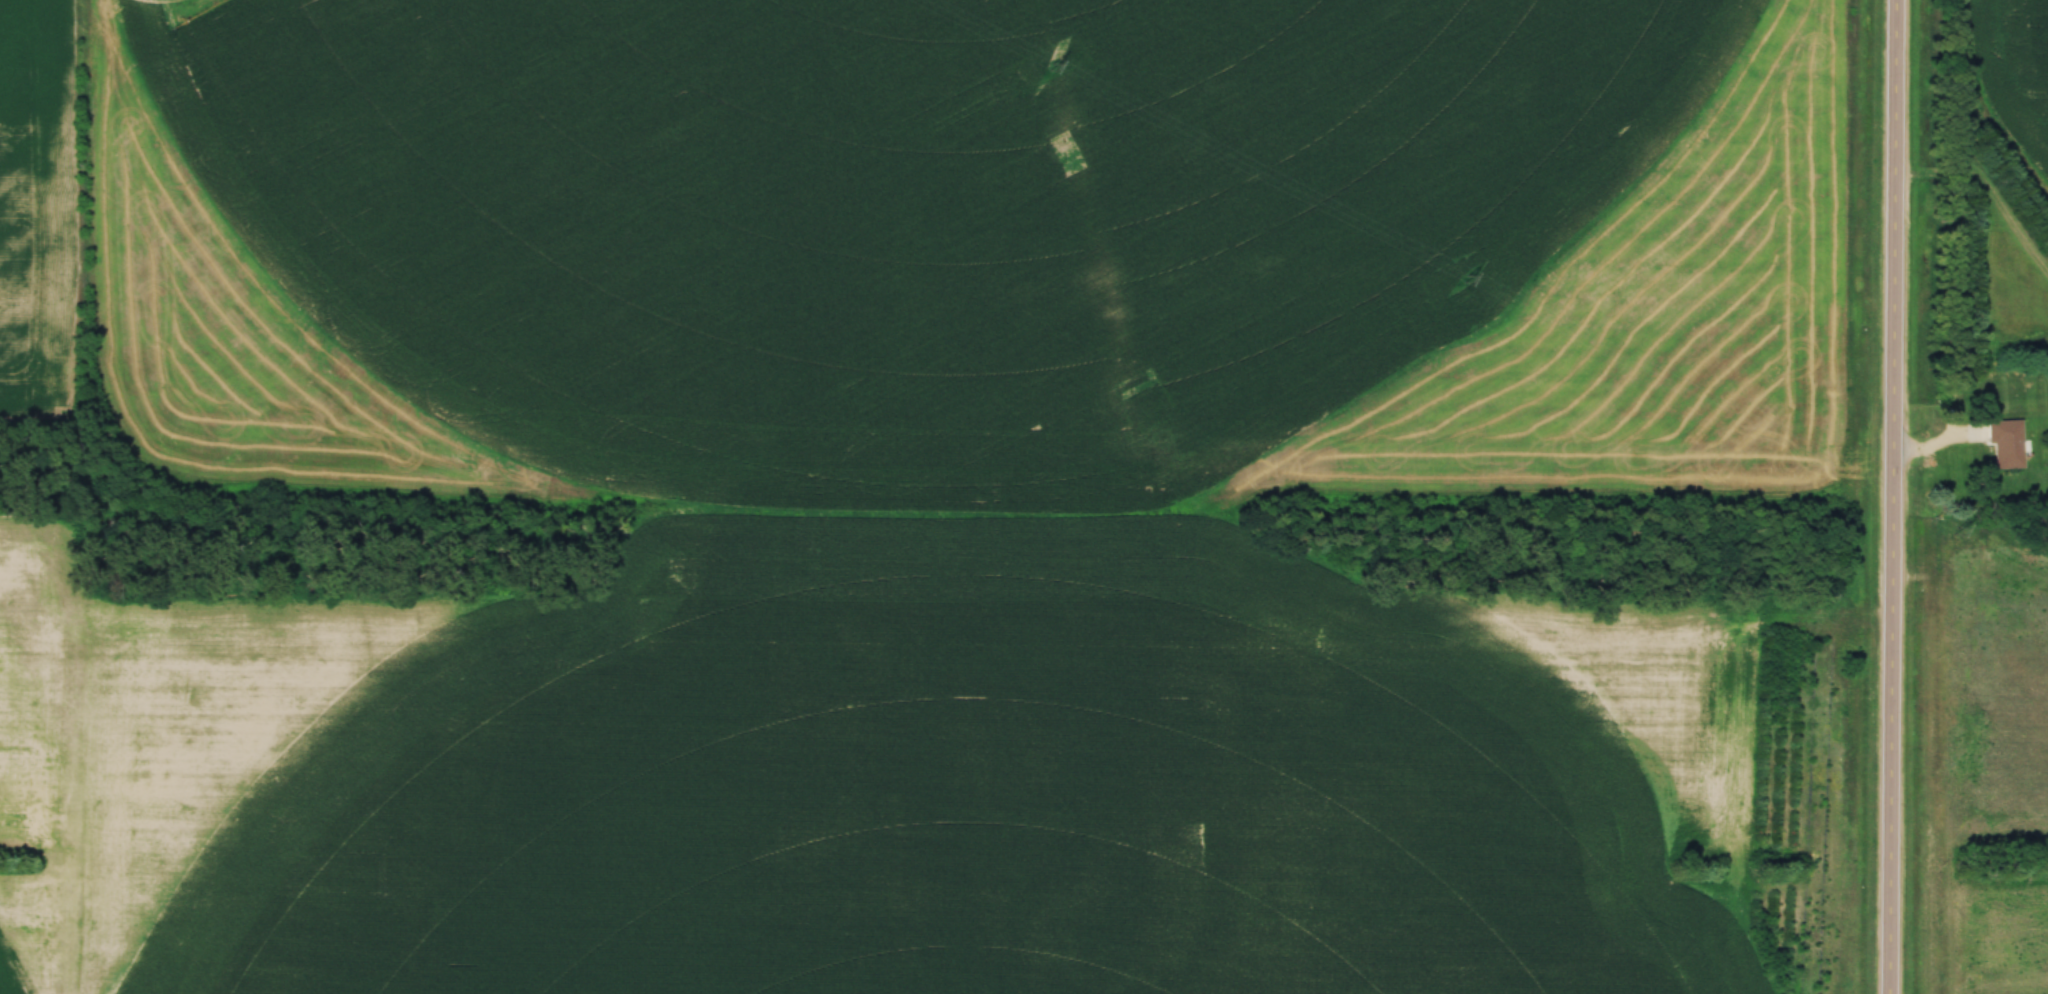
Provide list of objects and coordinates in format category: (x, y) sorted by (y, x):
building: (2004, 445)
road: (1893, 496)

